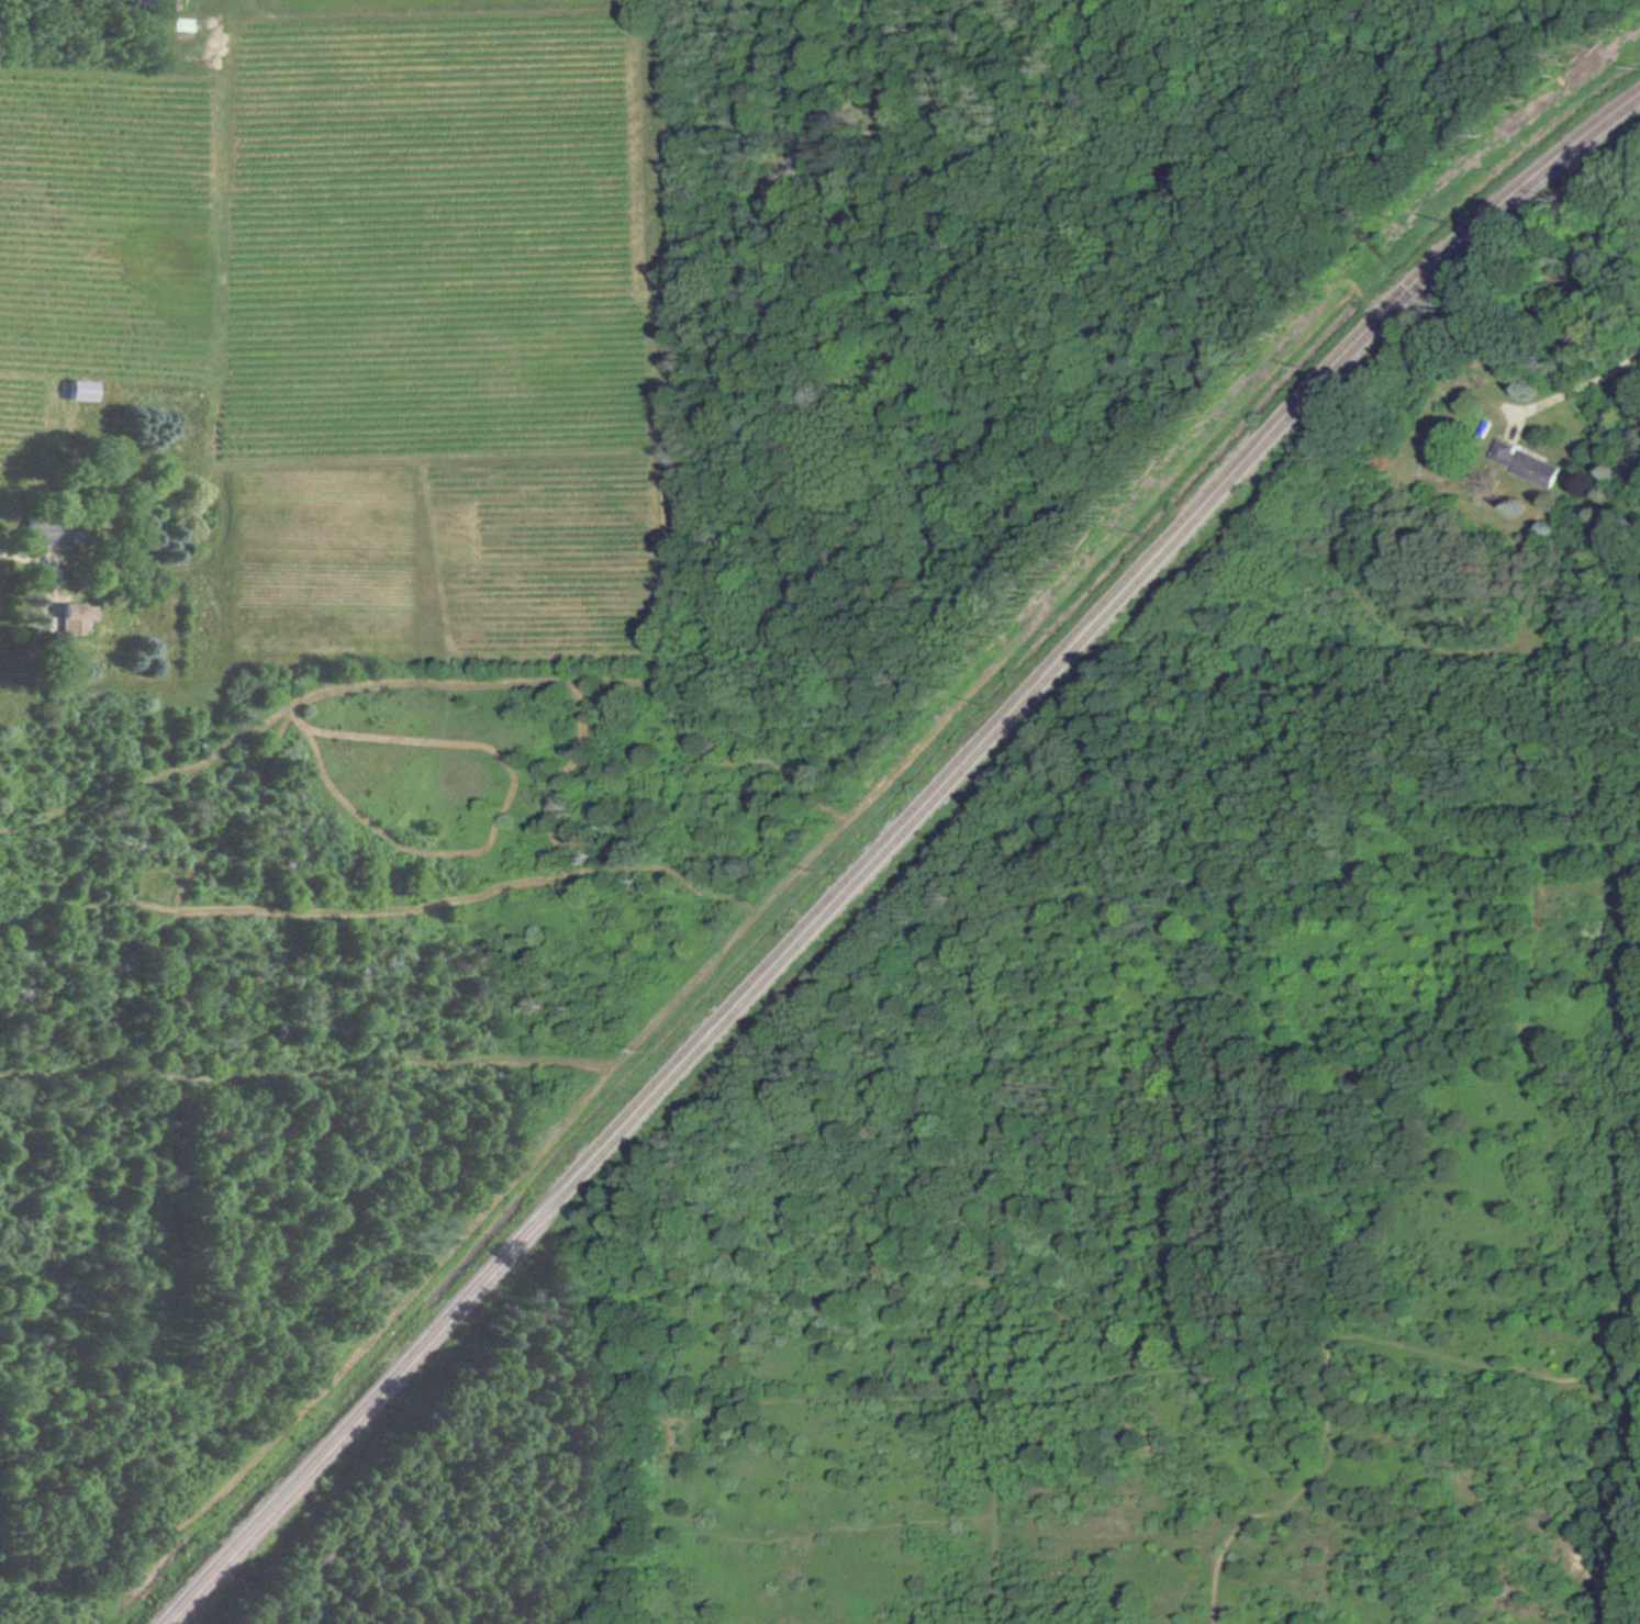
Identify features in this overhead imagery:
building: (79, 391)
road: (1568, 392)
building: (1522, 464)
building: (75, 618)
railway: (880, 839)
railway: (888, 845)

